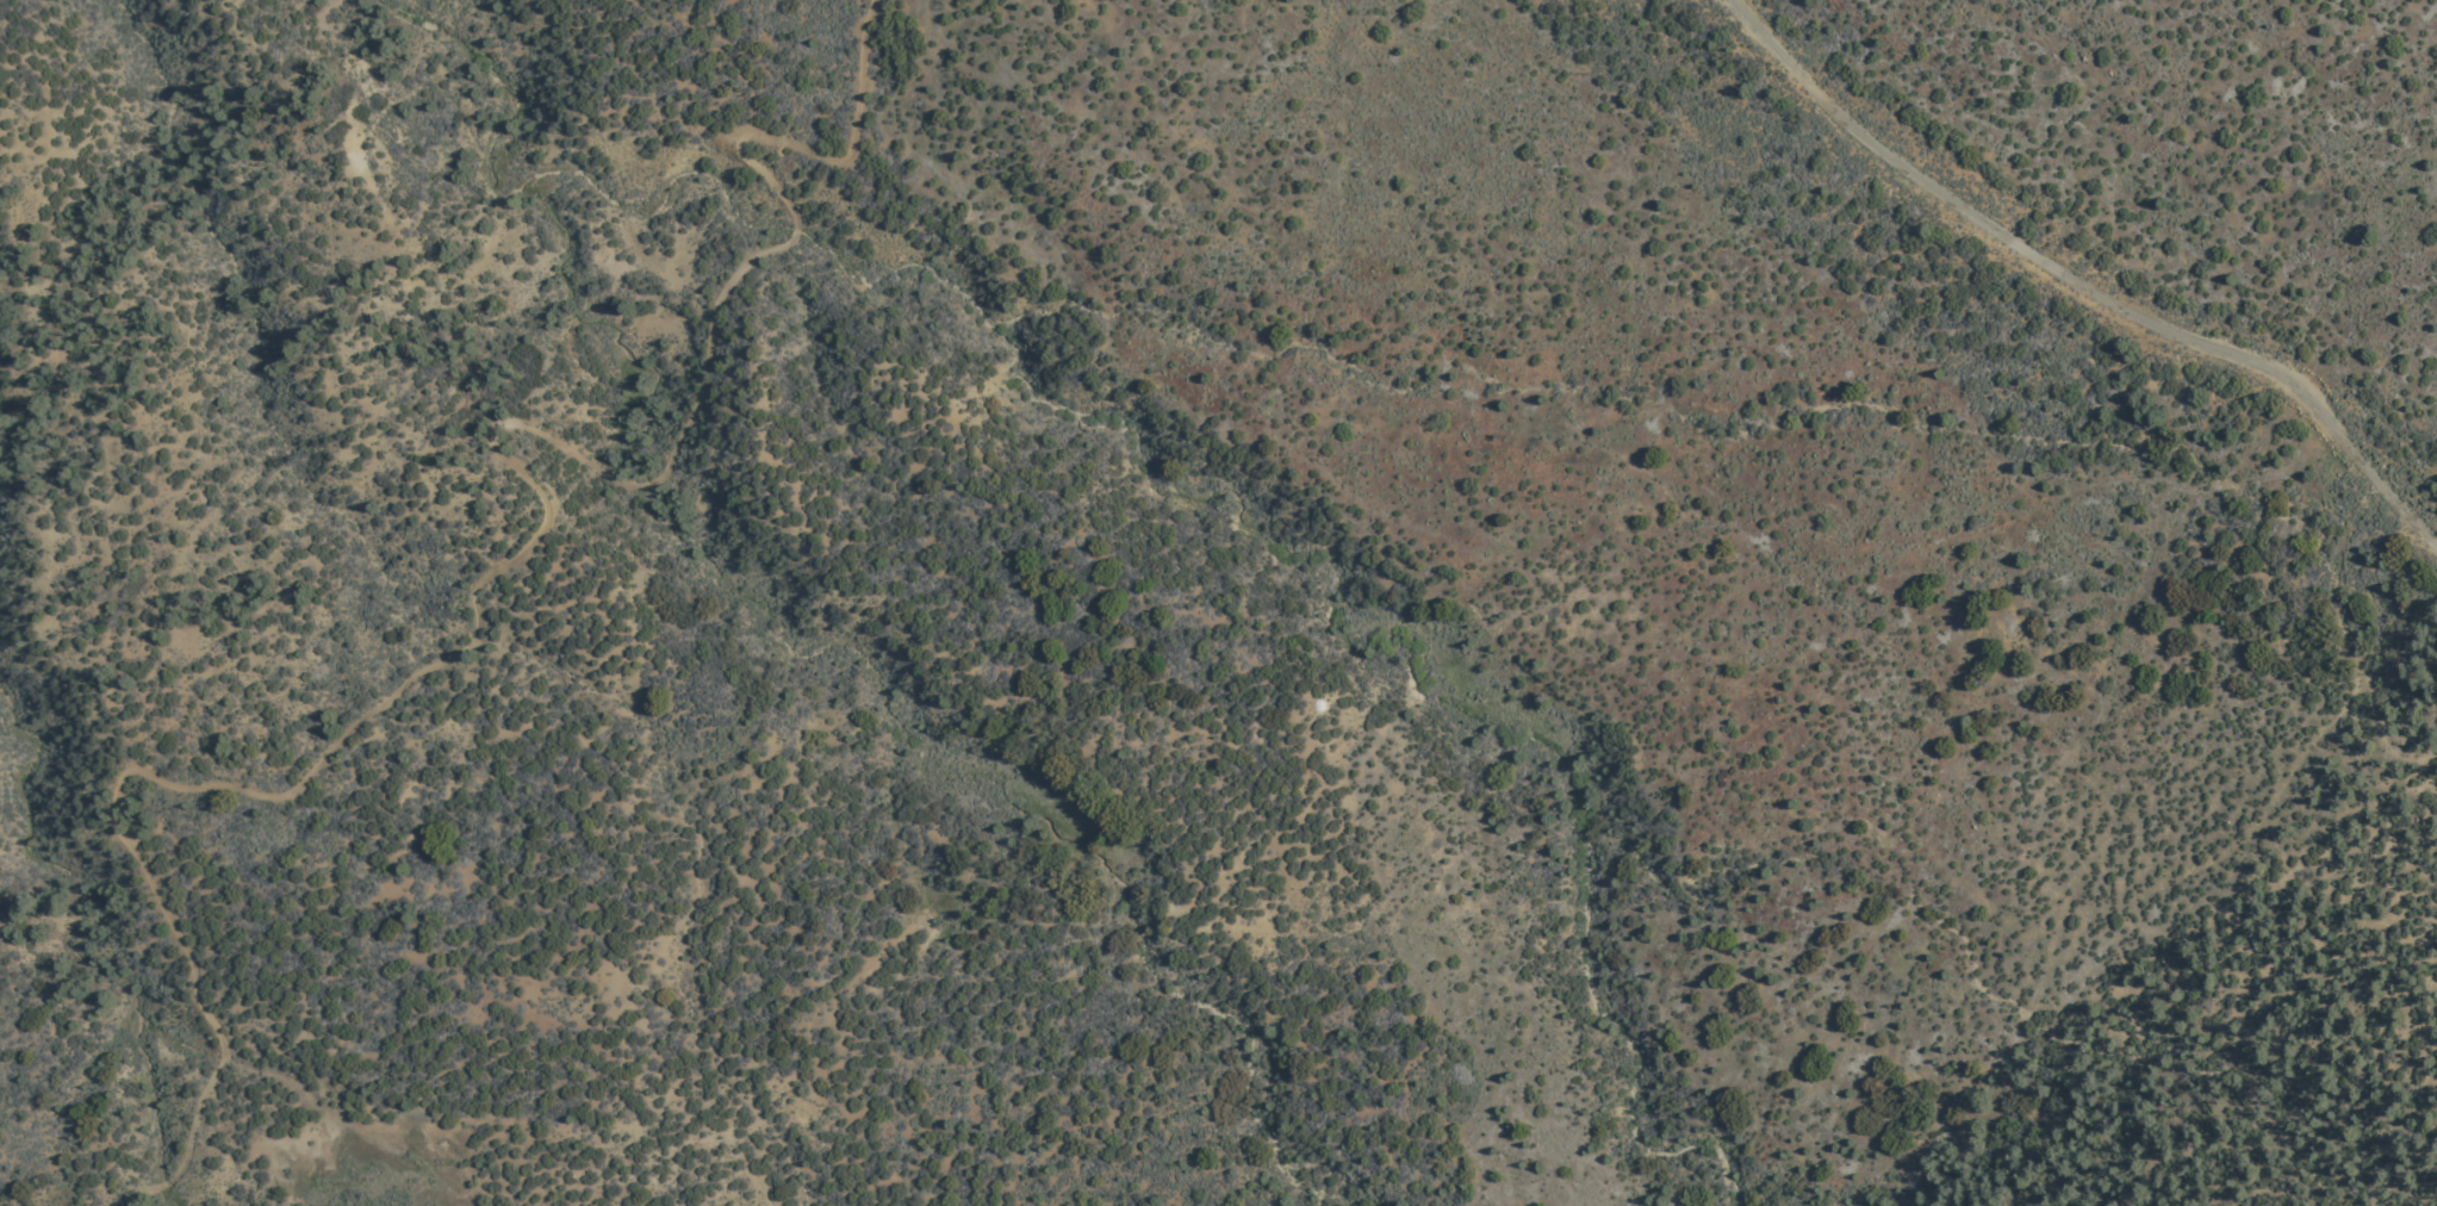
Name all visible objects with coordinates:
road: (2081, 278)
road: (524, 543)

